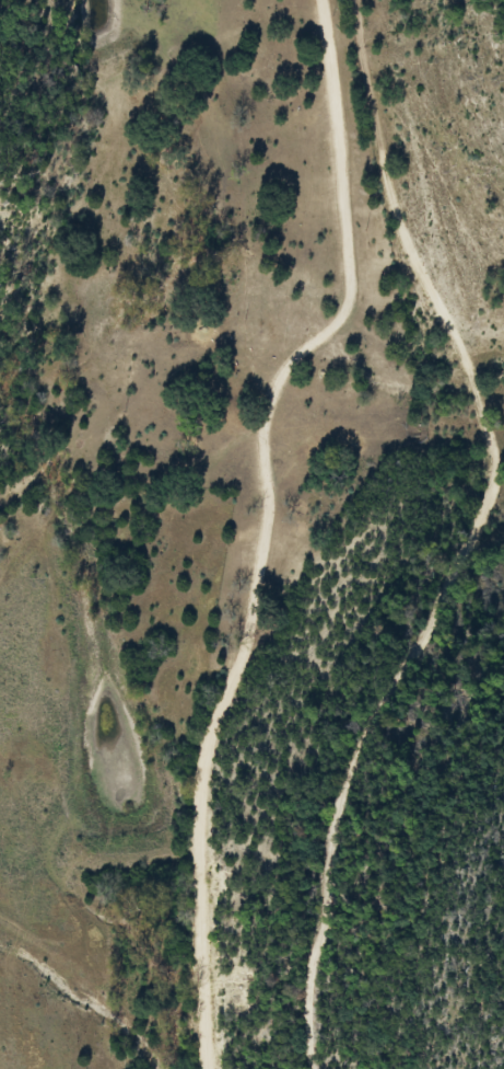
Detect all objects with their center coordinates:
road: (37, 174)
road: (22, 863)

